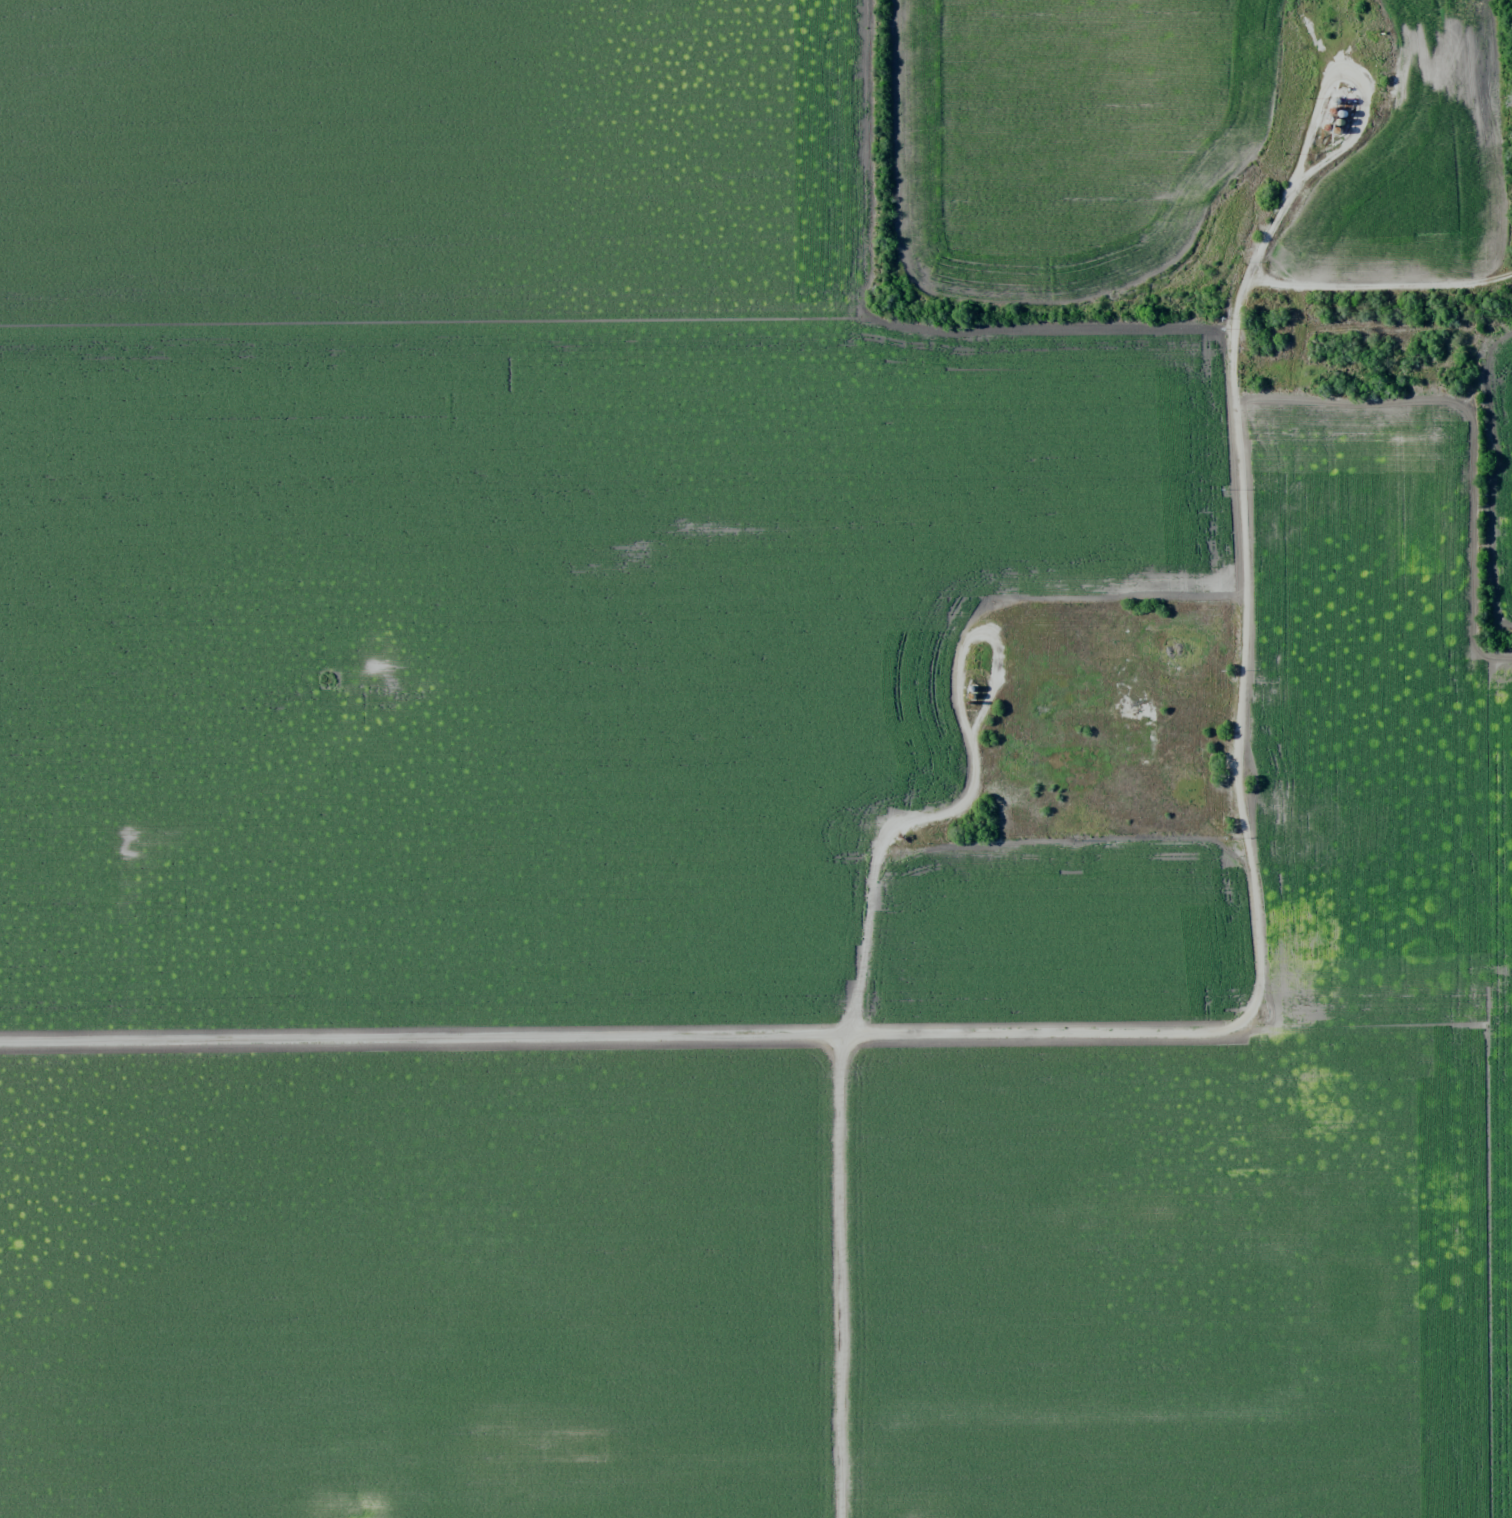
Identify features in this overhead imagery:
road: (1123, 1031)
road: (845, 1049)

